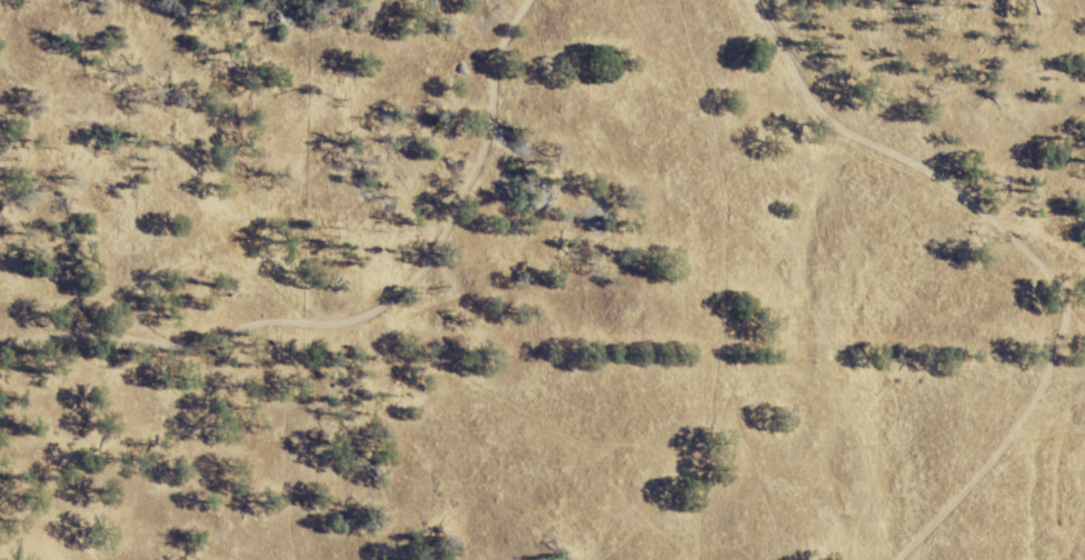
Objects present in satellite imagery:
road: (362, 290)

